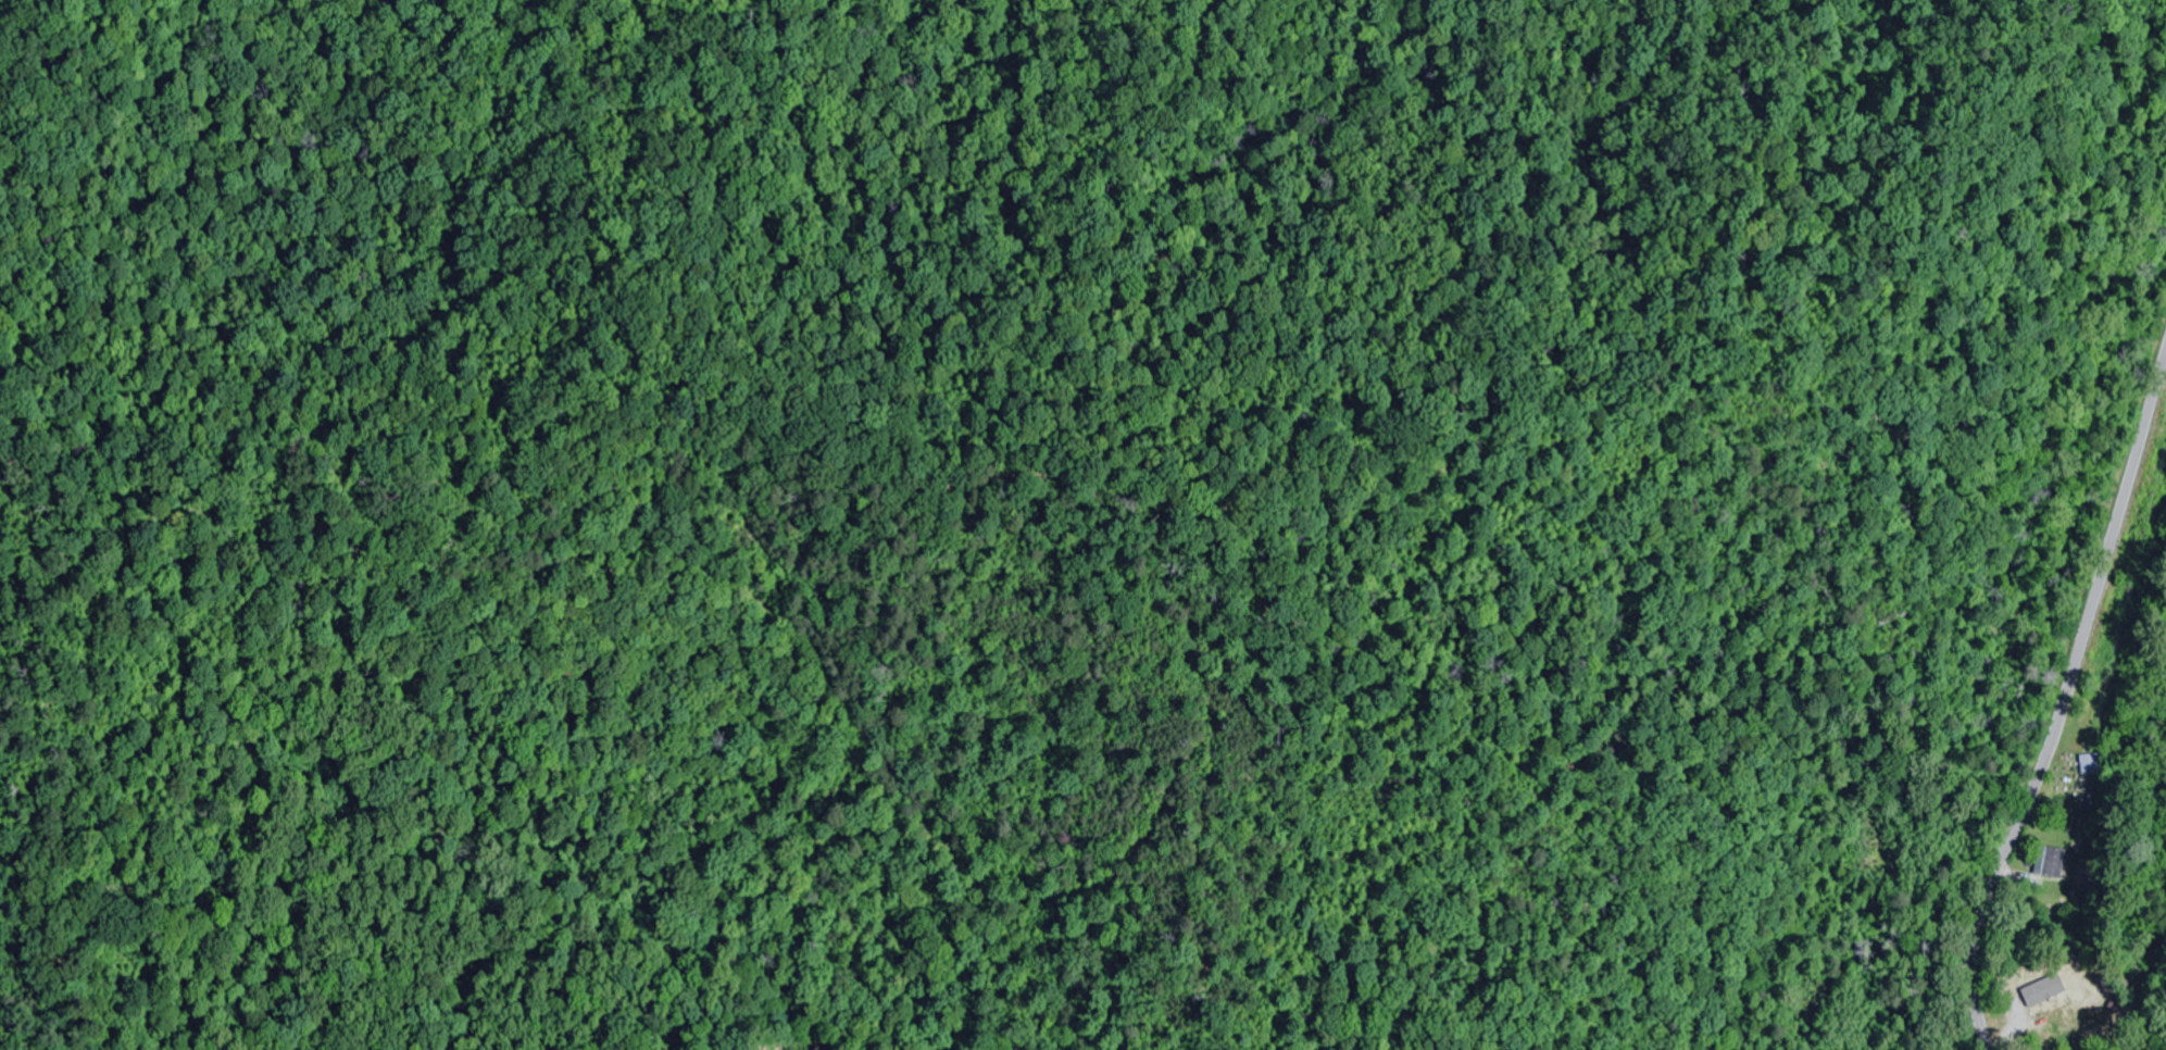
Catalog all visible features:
road: (2063, 711)
building: (2091, 765)
building: (2050, 863)
building: (2064, 977)
building: (2082, 1017)

